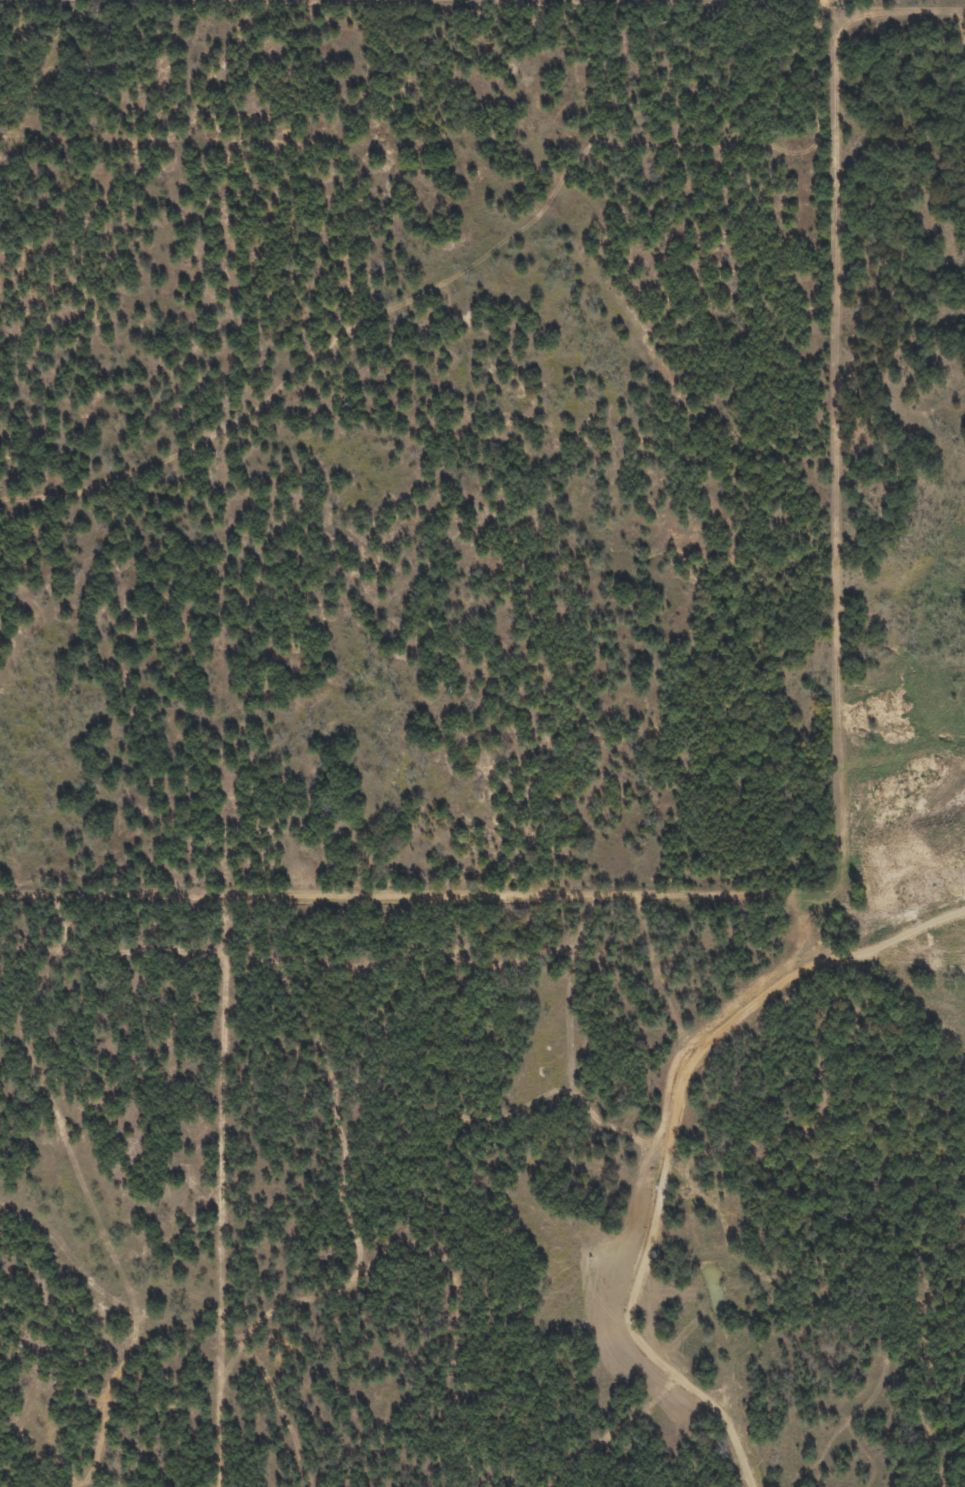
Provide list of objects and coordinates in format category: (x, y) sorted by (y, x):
road: (680, 1207)

